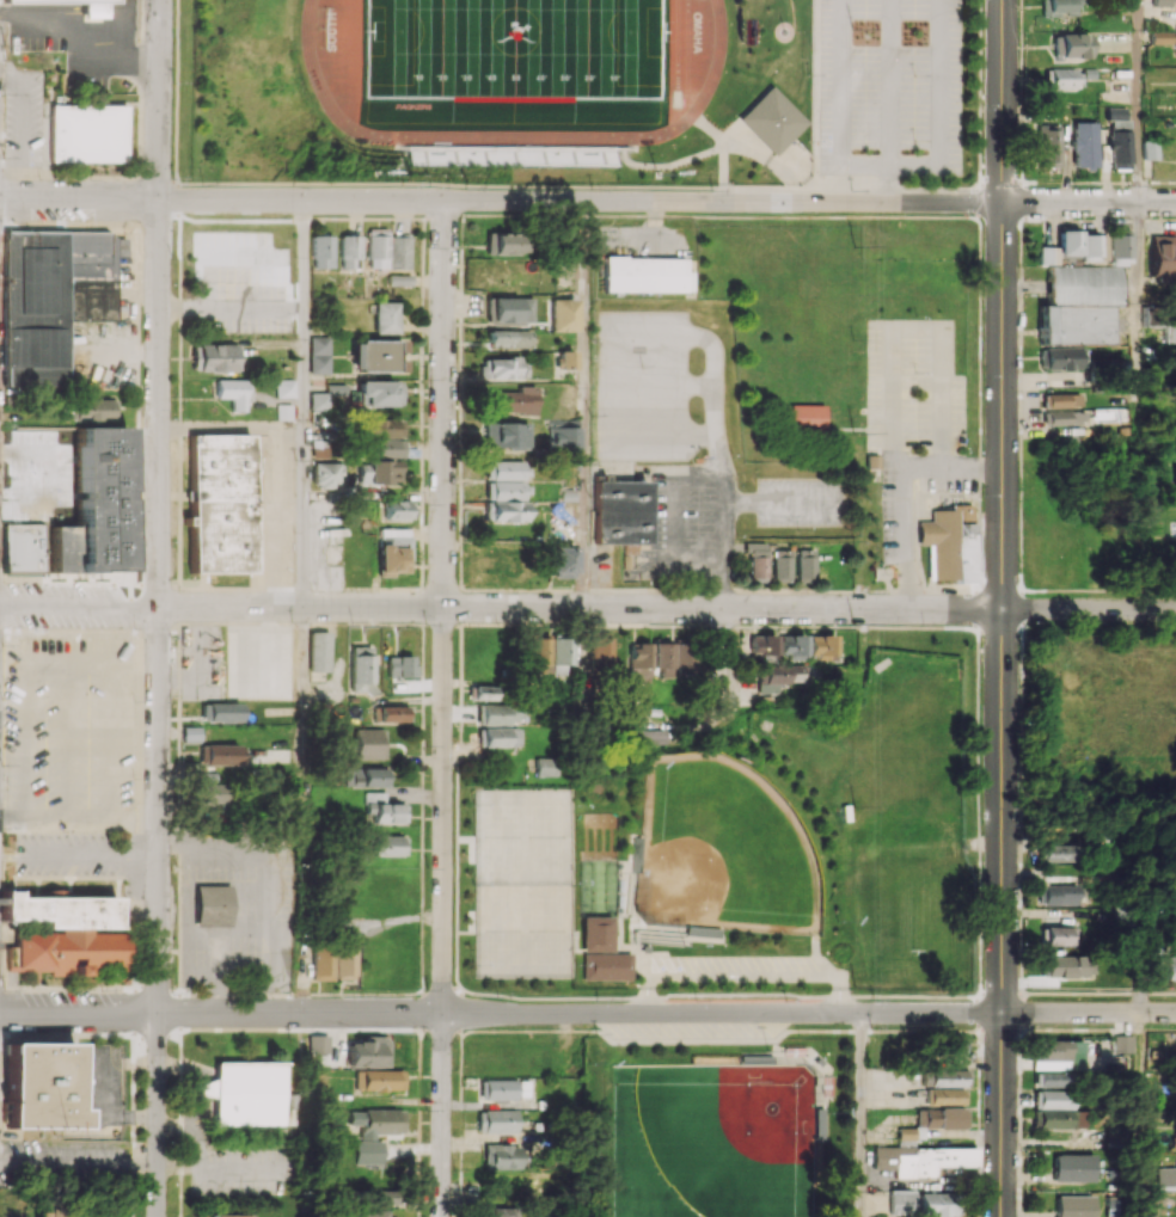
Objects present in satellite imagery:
building: (57, 1)
building: (1162, 2)
road: (123, 7)
building: (1060, 7)
building: (90, 13)
road: (62, 14)
road: (37, 21)
building: (1160, 37)
road: (124, 39)
building: (1071, 45)
park: (514, 47)
road: (98, 50)
road: (94, 61)
road: (141, 66)
track: (713, 73)
building: (1062, 78)
road: (841, 84)
road: (889, 84)
road: (939, 84)
parking lot: (892, 87)
road: (1139, 100)
building: (1116, 113)
building: (771, 121)
building: (87, 133)
building: (1084, 143)
building: (1047, 145)
building: (1120, 149)
building: (1151, 149)
building: (513, 159)
road: (865, 167)
road: (914, 167)
road: (889, 184)
road: (501, 201)
road: (1089, 202)
building: (252, 240)
building: (504, 244)
building: (1074, 247)
building: (376, 248)
building: (1119, 250)
building: (321, 251)
building: (349, 252)
building: (399, 252)
building: (1162, 256)
road: (1138, 272)
building: (644, 273)
building: (399, 279)
building: (51, 299)
building: (1079, 305)
road: (231, 308)
building: (507, 309)
building: (562, 314)
building: (385, 316)
building: (1160, 318)
building: (508, 338)
road: (302, 346)
building: (319, 355)
building: (376, 356)
building: (214, 357)
building: (1060, 358)
building: (564, 359)
building: (502, 368)
building: (284, 387)
building: (233, 392)
building: (379, 393)
building: (513, 400)
building: (1062, 400)
road: (584, 404)
building: (92, 410)
building: (808, 416)
building: (1064, 418)
building: (384, 428)
building: (503, 435)
building: (562, 440)
building: (319, 448)
building: (382, 448)
building: (378, 472)
building: (326, 474)
building: (502, 492)
road: (905, 492)
road: (373, 494)
building: (219, 503)
road: (1003, 506)
road: (158, 508)
building: (398, 510)
building: (620, 511)
building: (948, 543)
building: (23, 548)
road: (301, 551)
building: (500, 559)
building: (755, 559)
building: (562, 561)
building: (780, 564)
building: (804, 564)
road: (442, 607)
road: (501, 607)
road: (718, 608)
road: (1089, 609)
building: (791, 646)
building: (820, 646)
building: (318, 651)
building: (600, 651)
building: (561, 654)
building: (539, 656)
building: (675, 659)
building: (639, 663)
building: (399, 666)
building: (360, 669)
building: (777, 677)
road: (583, 684)
building: (485, 693)
road: (301, 694)
building: (220, 712)
building: (390, 713)
building: (495, 714)
building: (190, 733)
building: (498, 737)
building: (653, 737)
building: (369, 743)
park: (858, 748)
building: (221, 754)
park: (911, 761)
building: (546, 767)
building: (367, 776)
building: (209, 795)
building: (384, 809)
building: (388, 846)
park: (722, 849)
building: (1055, 853)
building: (1058, 895)
building: (207, 904)
road: (264, 917)
park: (522, 932)
building: (65, 934)
building: (1058, 935)
building: (343, 960)
building: (321, 961)
building: (605, 966)
parking lot: (716, 966)
building: (1065, 966)
building: (1170, 966)
road: (740, 976)
road: (209, 996)
road: (255, 996)
road: (587, 1013)
building: (1175, 1040)
building: (318, 1043)
building: (954, 1044)
building: (1122, 1044)
building: (1055, 1050)
building: (368, 1052)
building: (949, 1077)
building: (1051, 1078)
building: (378, 1080)
building: (41, 1087)
building: (498, 1089)
building: (246, 1093)
building: (945, 1095)
building: (1052, 1099)
park: (759, 1101)
road: (865, 1114)
road: (1002, 1114)
road: (1141, 1114)
road: (442, 1115)
road: (158, 1117)
building: (941, 1118)
building: (1058, 1119)
building: (495, 1121)
building: (374, 1132)
building: (905, 1136)
building: (501, 1156)
building: (920, 1160)
building: (1072, 1167)
building: (1166, 1174)
park: (759, 1186)
building: (382, 1196)
building: (901, 1201)
building: (937, 1204)
building: (1073, 1205)
building: (501, 1211)
building: (362, 1213)
building: (225, 1215)

